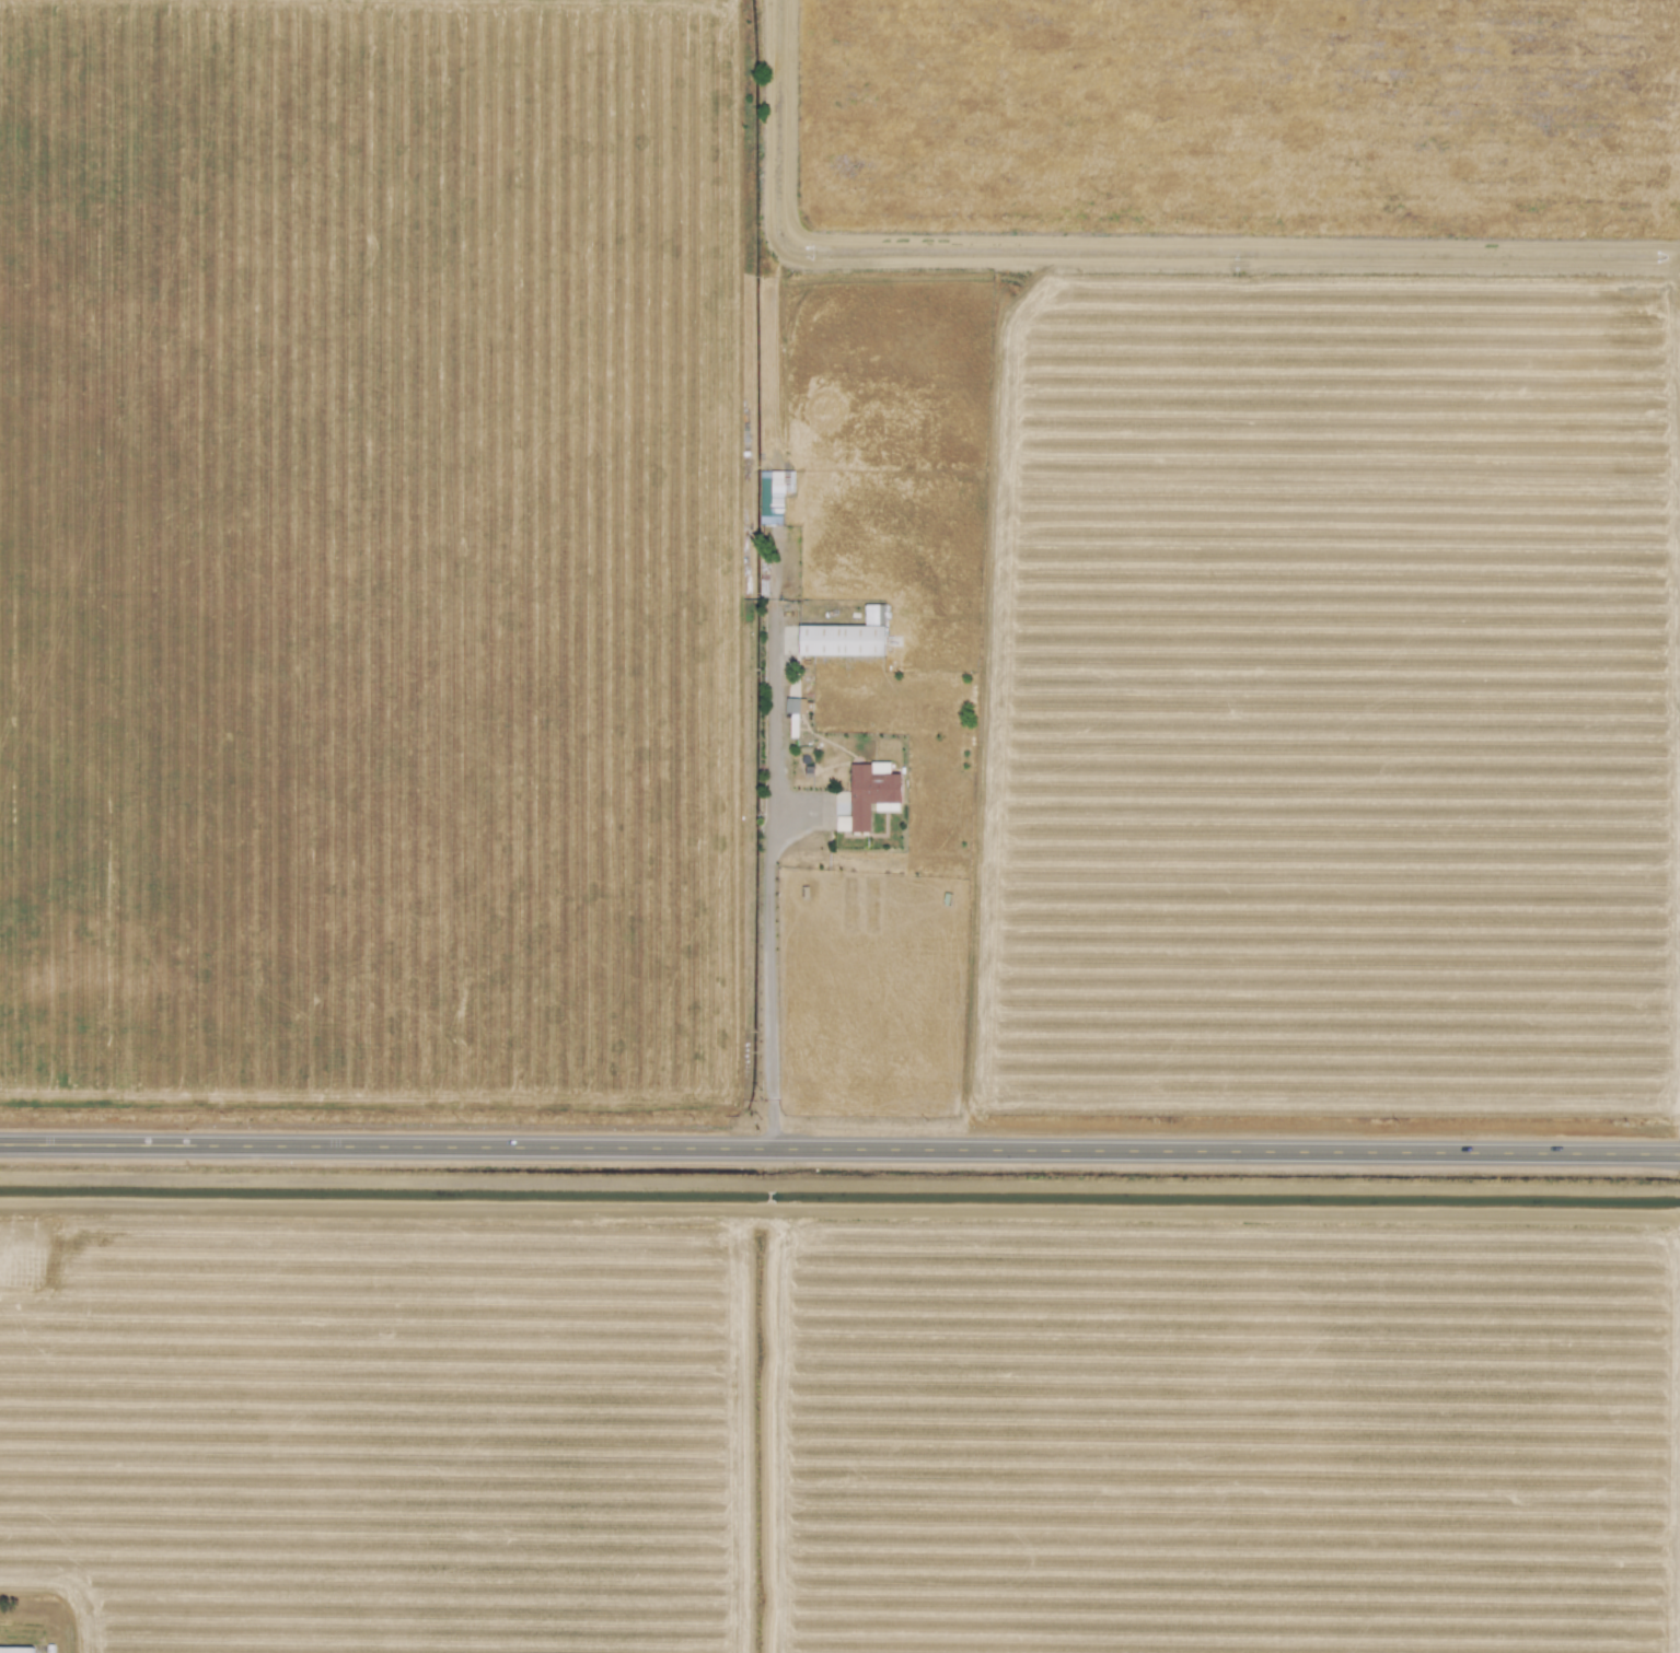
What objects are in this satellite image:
building: (774, 494)
building: (845, 637)
crop: (867, 684)
building: (791, 706)
building: (869, 793)
road: (767, 876)
road: (839, 1144)
building: (15, 1649)

